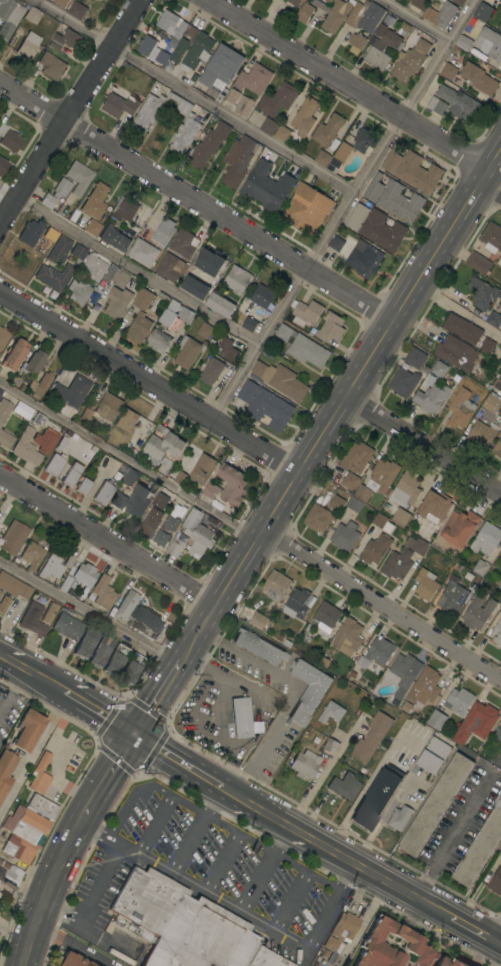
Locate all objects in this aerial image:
building: (328, 1)
building: (458, 2)
building: (60, 3)
building: (292, 3)
building: (418, 3)
building: (76, 10)
building: (482, 12)
building: (31, 13)
building: (304, 13)
building: (332, 14)
building: (354, 14)
building: (440, 14)
building: (370, 16)
building: (9, 17)
building: (388, 20)
road: (413, 20)
building: (170, 24)
building: (499, 26)
building: (403, 29)
building: (379, 30)
building: (391, 40)
building: (67, 41)
building: (172, 43)
building: (356, 43)
building: (464, 43)
building: (489, 43)
building: (146, 45)
building: (28, 46)
building: (191, 49)
building: (376, 55)
building: (161, 58)
building: (410, 61)
building: (51, 66)
building: (220, 67)
building: (448, 71)
building: (253, 79)
building: (478, 79)
road: (350, 91)
road: (195, 95)
building: (232, 96)
building: (218, 98)
building: (277, 100)
building: (458, 103)
road: (67, 105)
building: (119, 105)
building: (243, 106)
building: (436, 106)
building: (153, 109)
building: (298, 122)
building: (268, 127)
building: (184, 128)
building: (327, 130)
building: (9, 139)
building: (364, 142)
building: (208, 144)
building: (341, 151)
building: (322, 158)
building: (393, 158)
building: (237, 160)
building: (2, 165)
building: (333, 165)
building: (417, 173)
building: (78, 177)
building: (266, 187)
building: (61, 188)
building: (373, 188)
road: (5, 190)
road: (194, 200)
building: (48, 201)
building: (95, 201)
building: (399, 202)
building: (306, 208)
building: (125, 210)
road: (342, 210)
building: (356, 216)
building: (92, 227)
building: (381, 231)
building: (163, 232)
building: (30, 233)
building: (50, 235)
building: (491, 237)
building: (113, 239)
building: (183, 243)
building: (335, 243)
building: (59, 249)
building: (78, 253)
building: (142, 253)
building: (500, 258)
building: (365, 260)
building: (477, 263)
building: (170, 267)
building: (93, 268)
road: (134, 269)
building: (109, 273)
building: (202, 274)
building: (53, 276)
building: (119, 278)
building: (236, 279)
building: (79, 292)
building: (483, 294)
building: (263, 295)
building: (142, 299)
building: (116, 302)
building: (219, 305)
road: (455, 311)
building: (305, 312)
building: (175, 314)
building: (493, 319)
building: (249, 324)
building: (138, 328)
building: (330, 328)
building: (462, 328)
building: (204, 330)
building: (3, 337)
building: (159, 342)
building: (487, 346)
building: (302, 347)
building: (227, 349)
building: (187, 352)
building: (456, 353)
building: (13, 354)
building: (415, 358)
building: (33, 363)
building: (439, 369)
building: (211, 371)
road: (355, 371)
building: (280, 380)
building: (15, 381)
road: (147, 382)
building: (403, 382)
building: (39, 385)
building: (498, 385)
building: (0, 391)
building: (71, 392)
building: (431, 398)
building: (490, 403)
building: (264, 405)
building: (108, 407)
building: (4, 409)
building: (460, 409)
building: (22, 410)
building: (86, 415)
building: (36, 418)
building: (127, 422)
building: (481, 434)
building: (71, 435)
building: (5, 439)
building: (46, 440)
building: (61, 443)
road: (421, 443)
building: (26, 447)
building: (163, 447)
building: (66, 448)
building: (497, 448)
building: (355, 458)
road: (126, 460)
building: (54, 465)
building: (202, 469)
building: (71, 474)
building: (384, 475)
building: (129, 477)
building: (180, 478)
building: (350, 481)
building: (231, 484)
building: (82, 486)
building: (405, 489)
building: (210, 490)
building: (103, 493)
building: (362, 494)
building: (135, 499)
building: (336, 503)
building: (354, 504)
building: (434, 508)
building: (400, 516)
building: (318, 517)
building: (170, 521)
building: (211, 521)
building: (381, 523)
building: (149, 525)
building: (458, 528)
building: (192, 535)
building: (344, 536)
building: (13, 537)
building: (160, 538)
road: (105, 539)
building: (486, 540)
building: (417, 545)
building: (375, 549)
building: (500, 553)
building: (32, 555)
building: (80, 556)
building: (69, 561)
building: (397, 564)
building: (51, 567)
building: (480, 568)
building: (78, 576)
building: (425, 585)
building: (14, 586)
building: (276, 586)
building: (499, 586)
building: (0, 592)
building: (103, 592)
building: (452, 598)
building: (3, 603)
building: (297, 603)
road: (380, 604)
building: (500, 606)
road: (88, 612)
building: (137, 612)
building: (477, 612)
building: (49, 613)
building: (324, 618)
building: (32, 620)
building: (258, 620)
building: (67, 625)
road: (195, 631)
building: (497, 633)
building: (348, 635)
building: (279, 637)
building: (85, 643)
building: (286, 643)
building: (259, 647)
building: (100, 651)
building: (376, 654)
building: (115, 660)
road: (178, 661)
building: (324, 662)
building: (130, 669)
road: (30, 673)
building: (402, 673)
building: (351, 674)
building: (424, 687)
road: (11, 690)
road: (296, 690)
building: (307, 691)
road: (64, 693)
road: (154, 698)
building: (458, 701)
building: (394, 702)
building: (405, 707)
building: (331, 712)
road: (100, 714)
building: (241, 718)
building: (436, 720)
building: (476, 723)
building: (27, 730)
building: (498, 733)
building: (371, 737)
building: (330, 746)
building: (433, 755)
road: (33, 757)
road: (178, 759)
building: (498, 761)
building: (304, 764)
building: (6, 768)
road: (108, 771)
road: (321, 773)
building: (40, 774)
building: (344, 786)
building: (376, 797)
road: (212, 799)
road: (129, 801)
building: (435, 805)
building: (399, 818)
road: (153, 824)
building: (27, 828)
road: (454, 834)
road: (281, 839)
road: (250, 841)
road: (188, 843)
building: (480, 846)
building: (500, 848)
road: (339, 854)
road: (221, 862)
building: (10, 874)
road: (102, 878)
building: (496, 881)
road: (256, 882)
road: (50, 886)
road: (215, 896)
road: (290, 901)
road: (327, 914)
building: (181, 924)
building: (342, 931)
road: (476, 931)
road: (498, 938)
road: (498, 943)
road: (74, 944)
building: (391, 946)
building: (265, 959)
building: (70, 960)
building: (448, 962)

